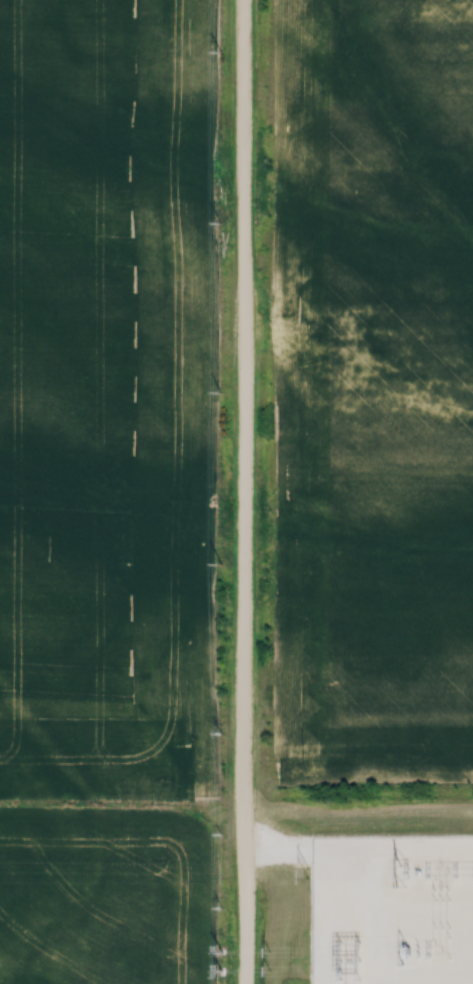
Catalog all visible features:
road: (242, 492)
road: (276, 848)
power tower: (400, 869)
power tower: (306, 871)
power substation: (392, 910)

